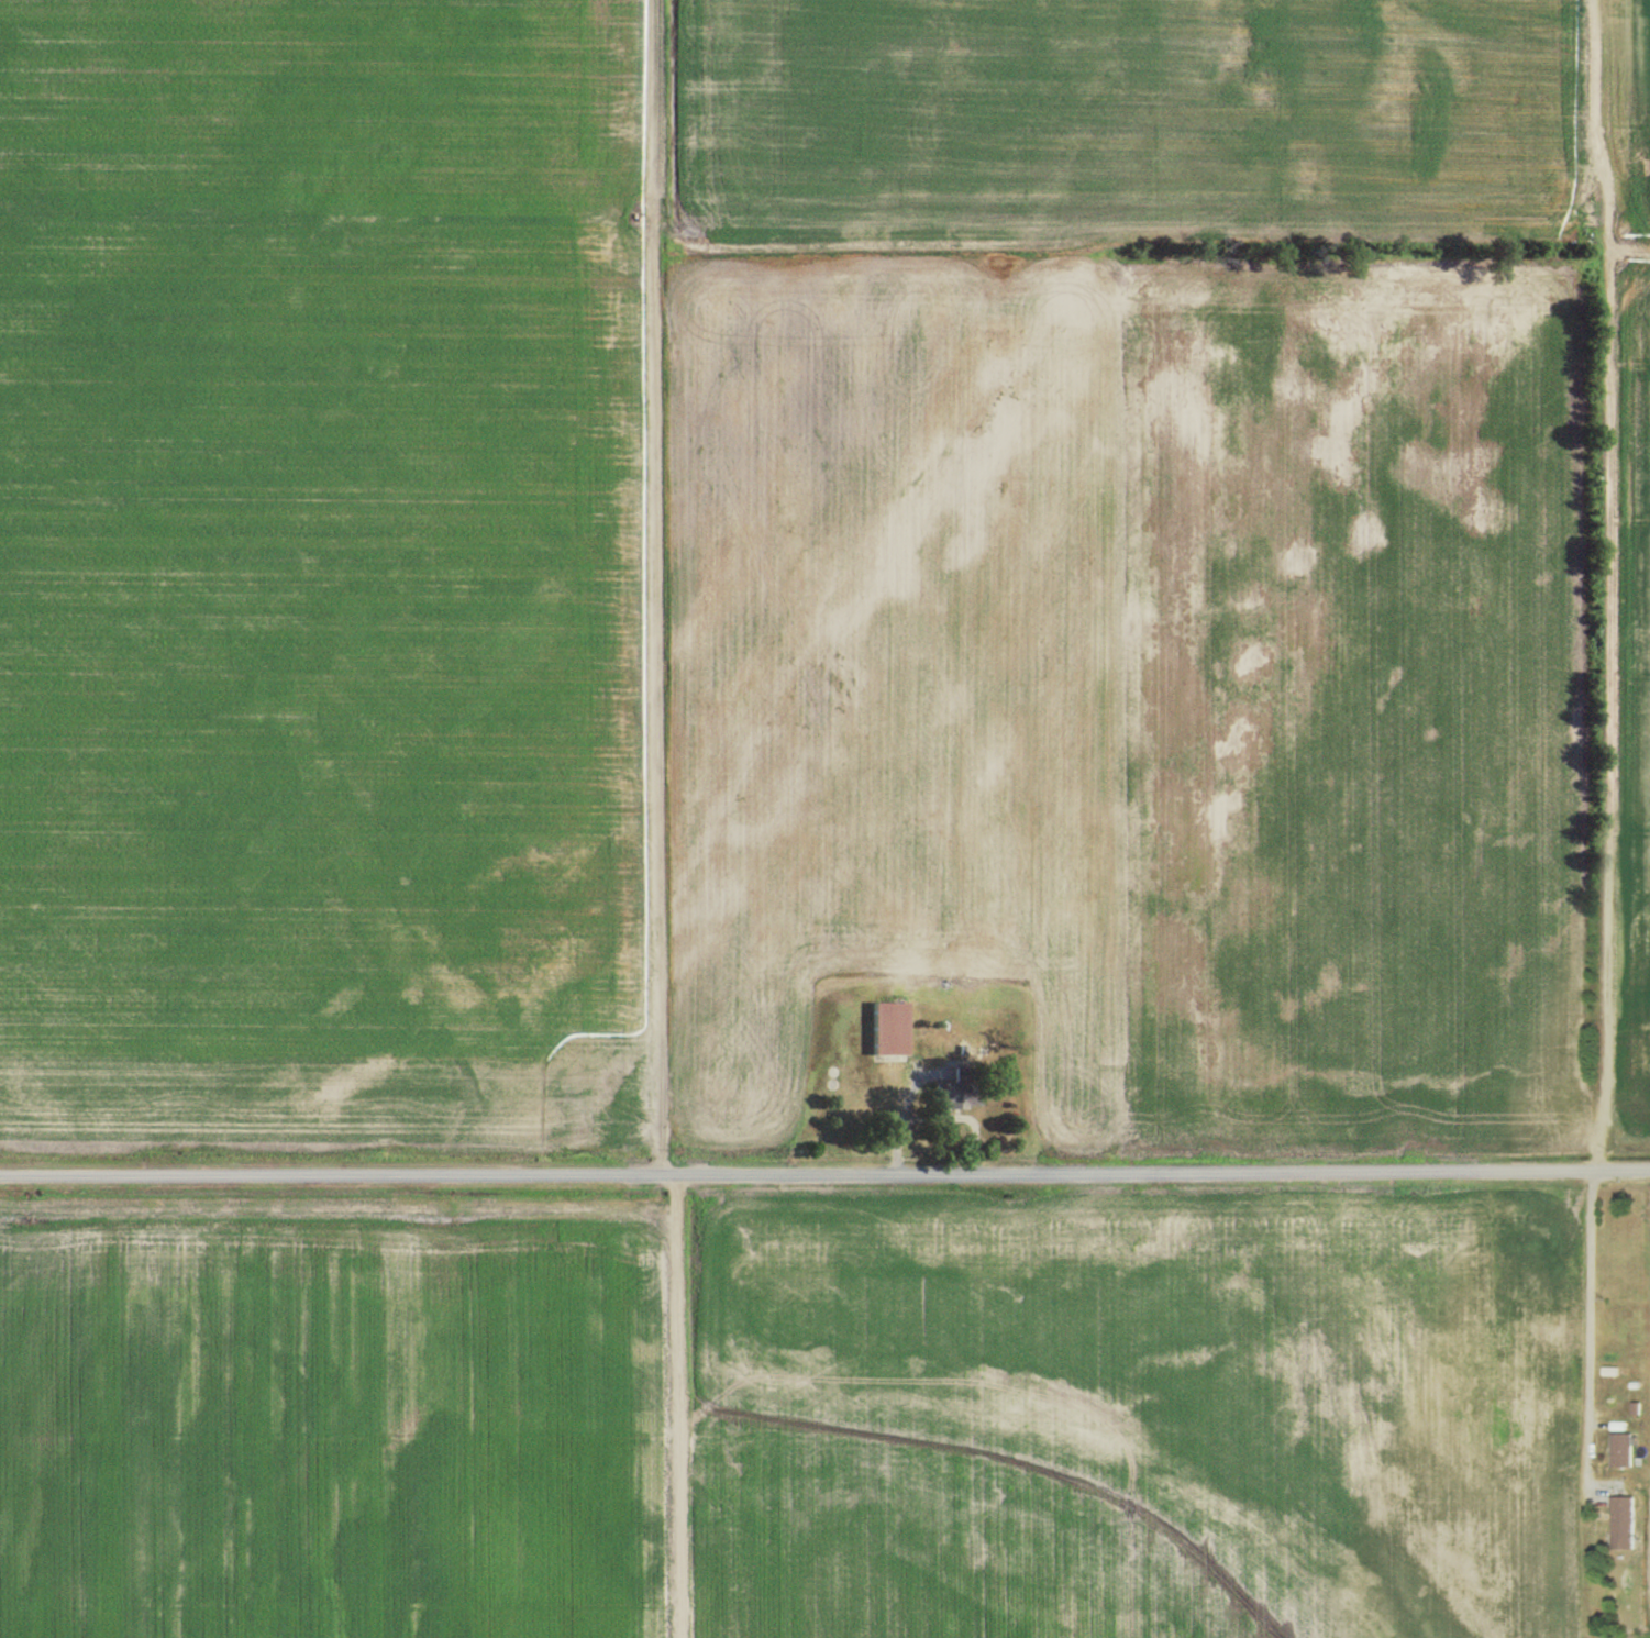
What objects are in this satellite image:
road: (652, 586)
road: (1604, 587)
building: (887, 1026)
building: (957, 1087)
road: (824, 1171)
road: (1591, 1332)
road: (676, 1405)
building: (1637, 1406)
building: (1618, 1423)
building: (1623, 1447)
building: (1623, 1519)

